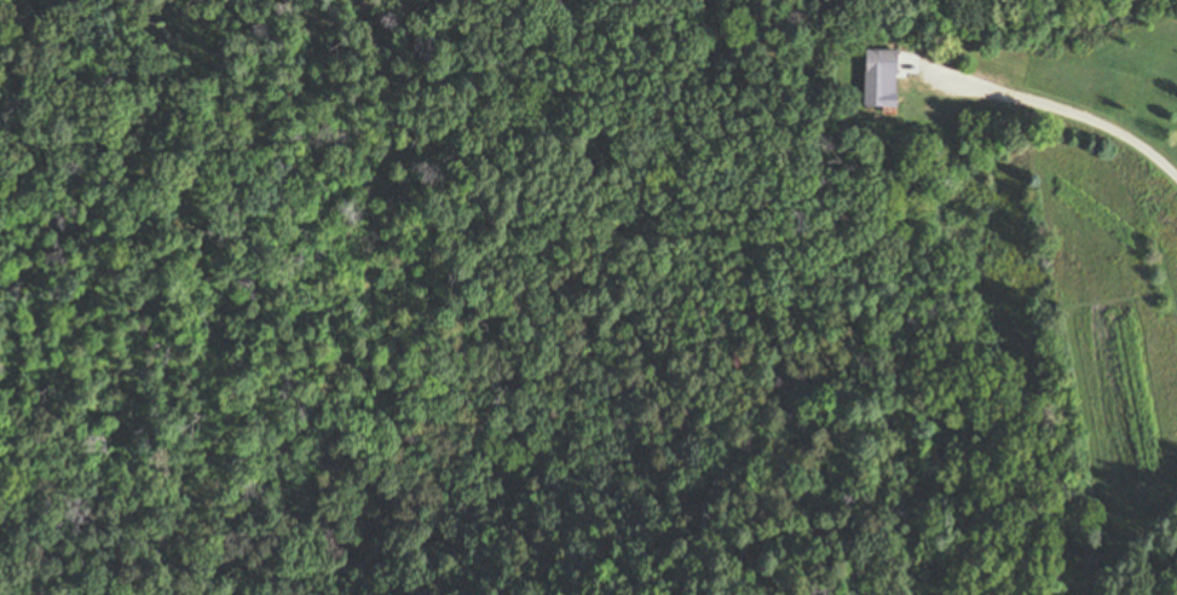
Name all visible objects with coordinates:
building: (887, 80)
road: (1067, 105)

